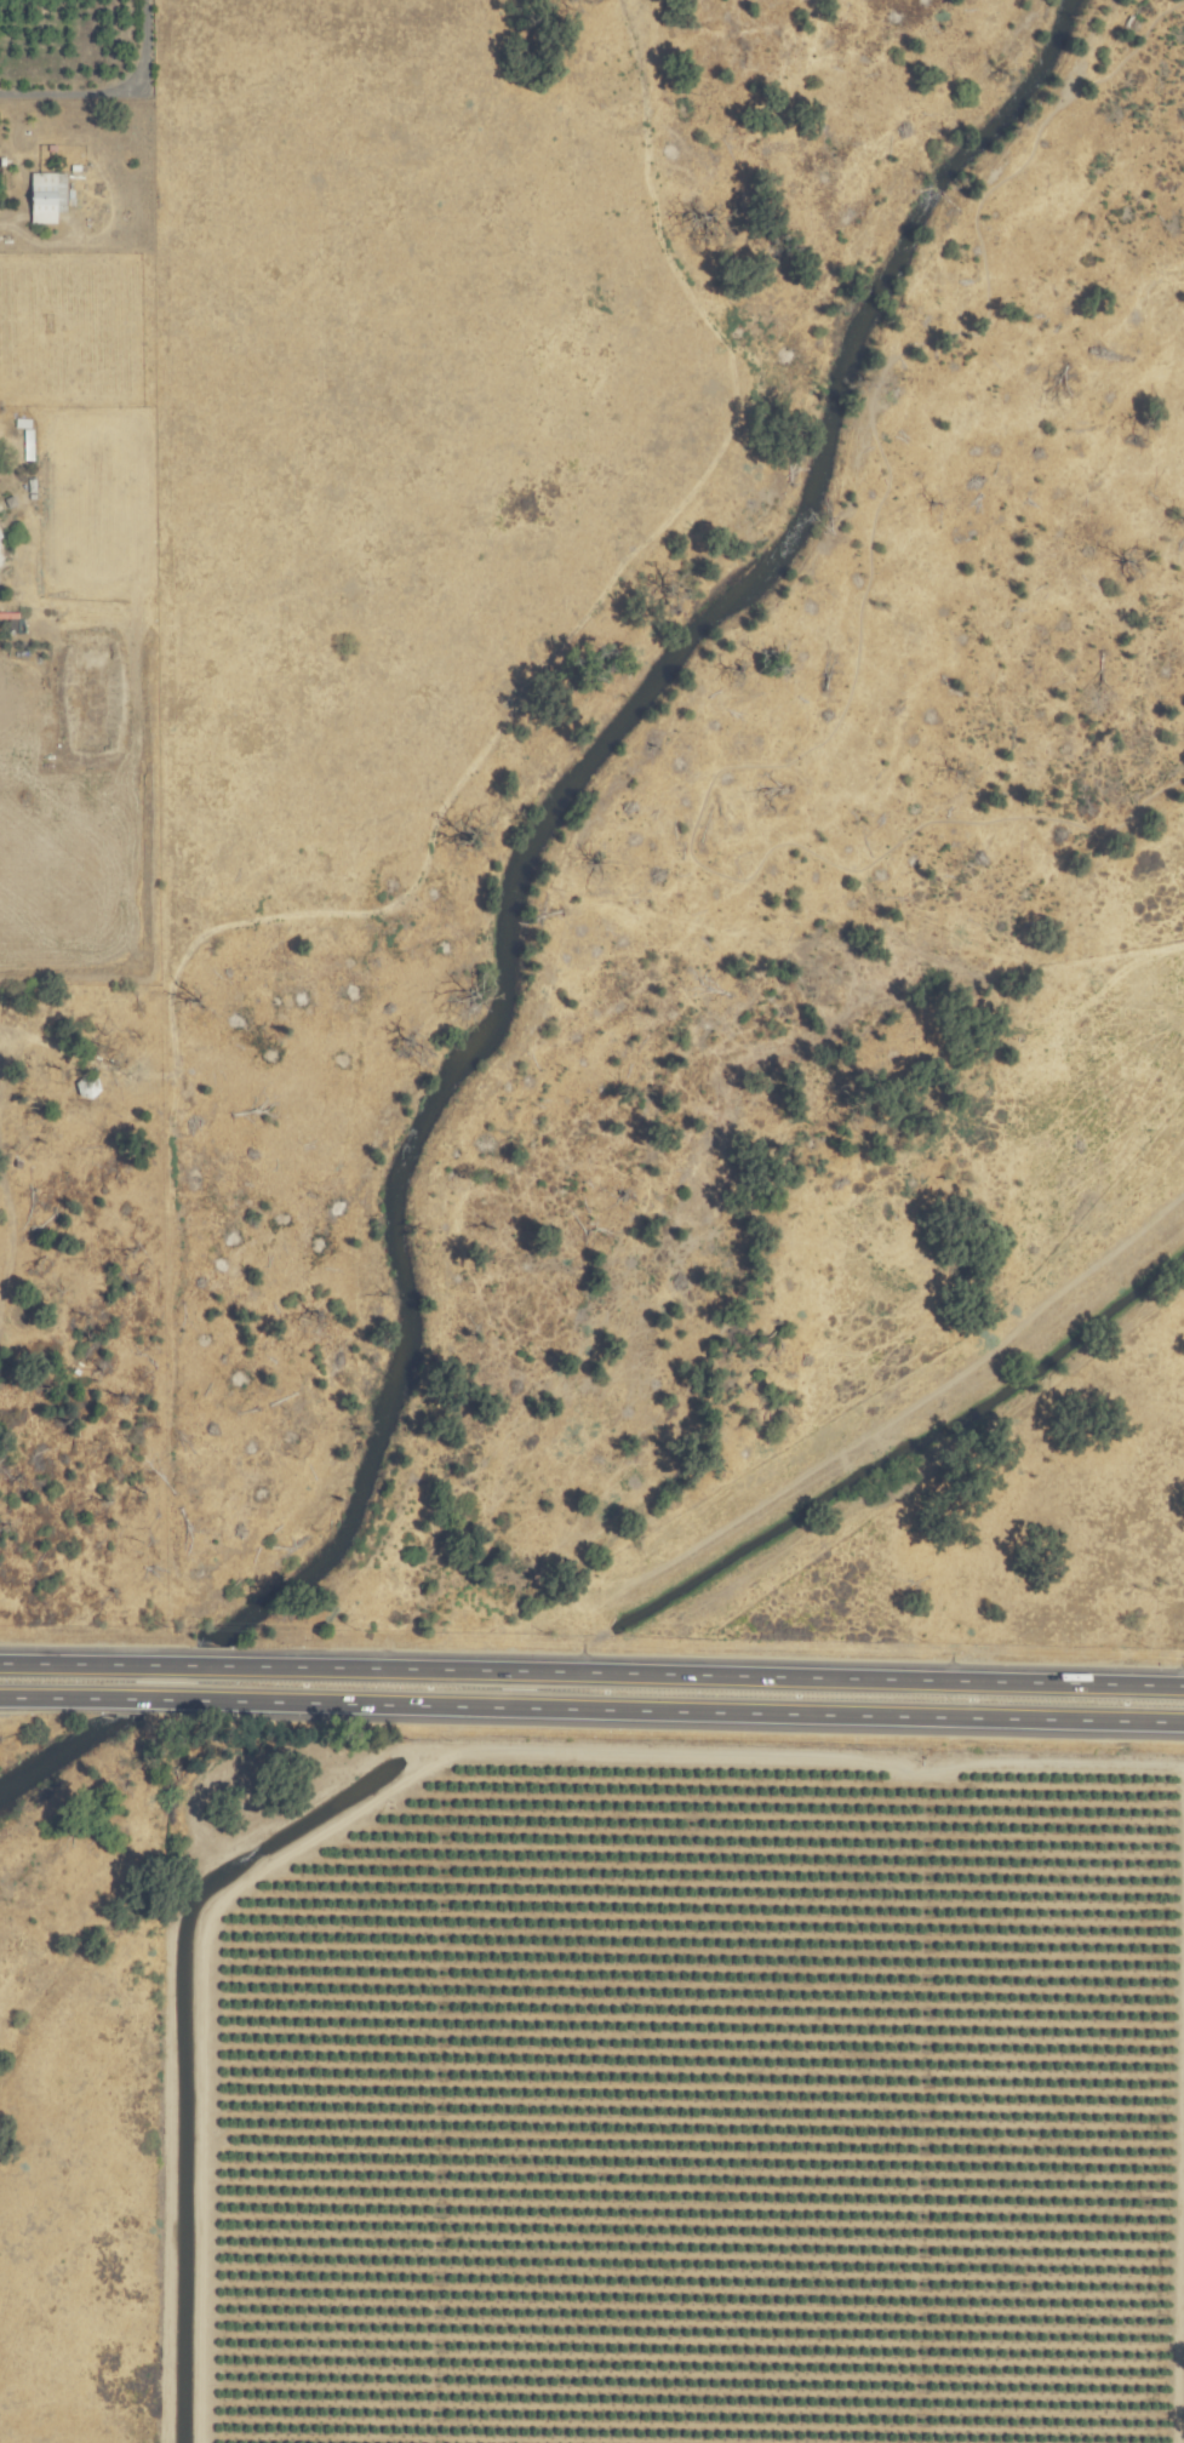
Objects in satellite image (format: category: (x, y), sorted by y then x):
crop: (48, 51)
road: (111, 95)
building: (44, 198)
crop: (580, 991)
road: (8, 1229)
road: (591, 1674)
road: (591, 1710)
crop: (697, 2121)
crop: (1178, 2307)

